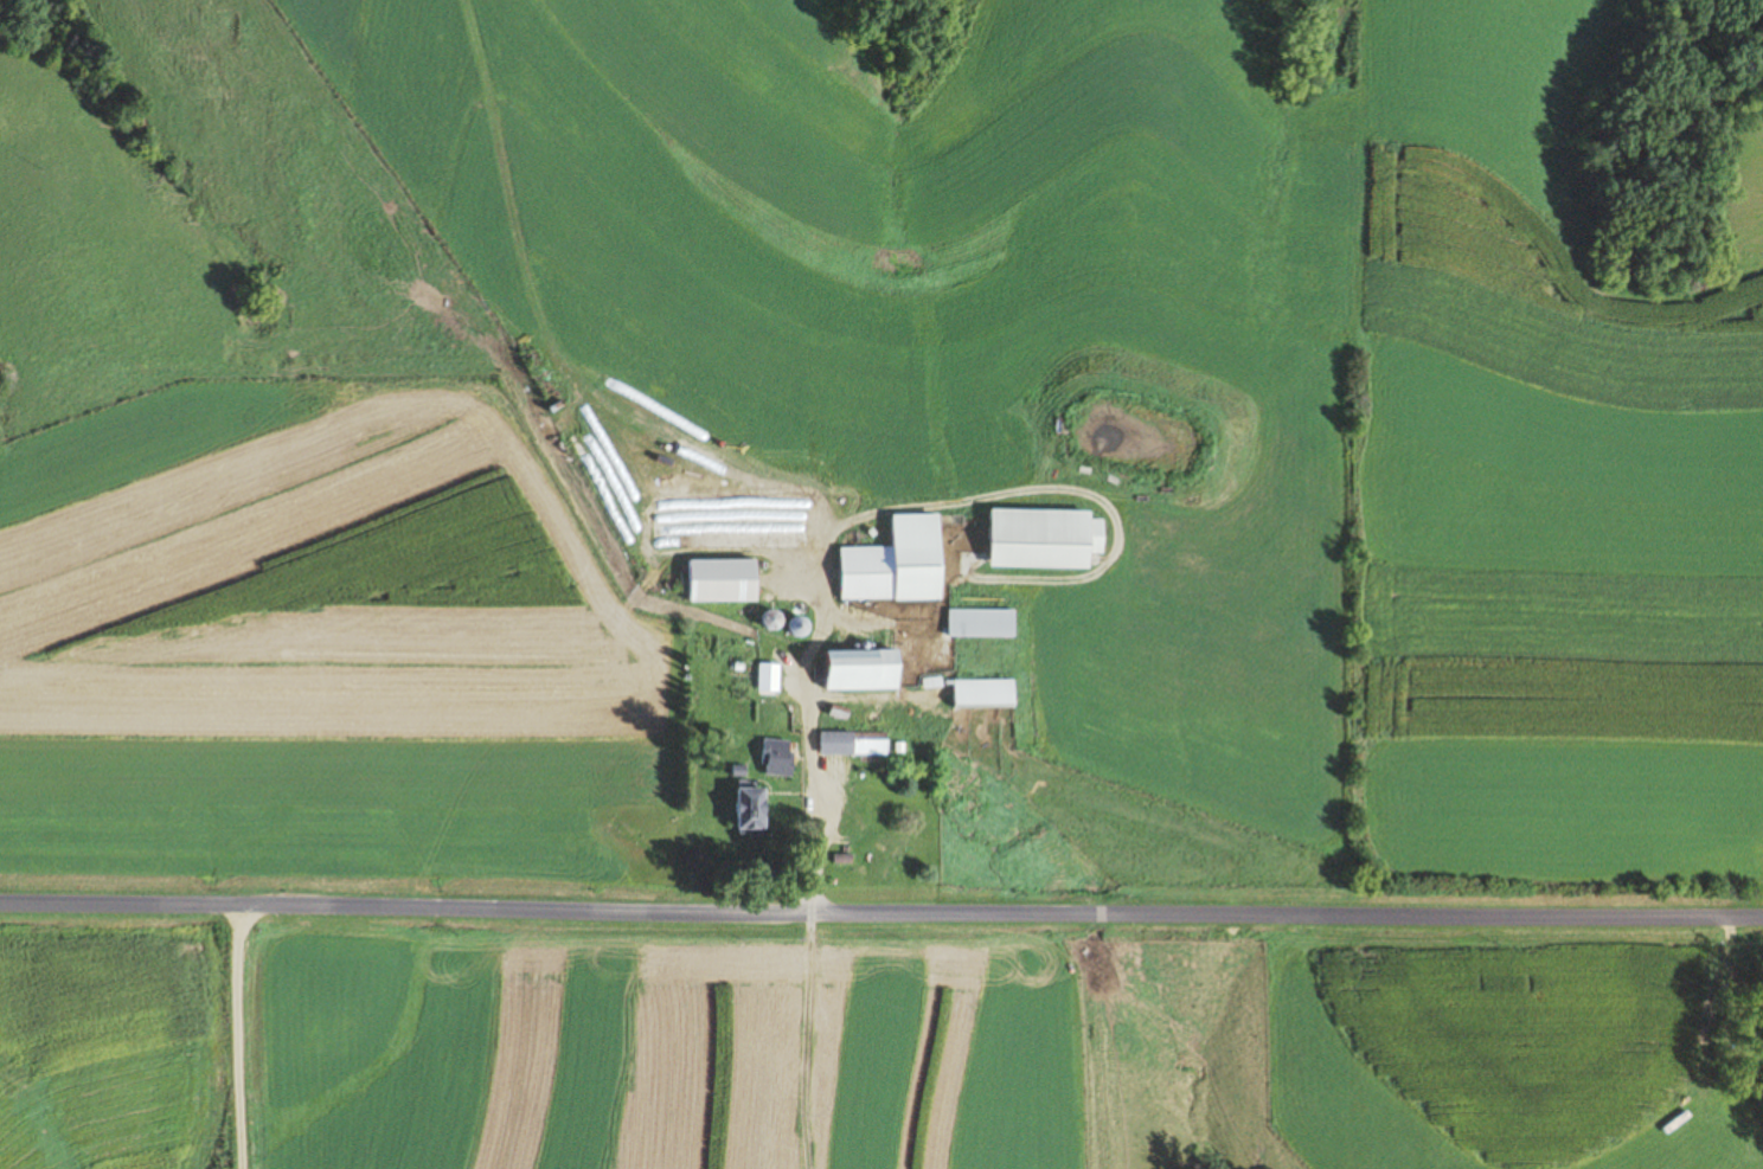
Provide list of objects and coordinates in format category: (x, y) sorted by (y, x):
building: (1045, 538)
building: (898, 563)
building: (724, 580)
building: (982, 622)
building: (866, 669)
building: (986, 692)
building: (854, 743)
building: (777, 757)
building: (754, 810)
building: (844, 859)
road: (880, 908)
road: (238, 1036)

